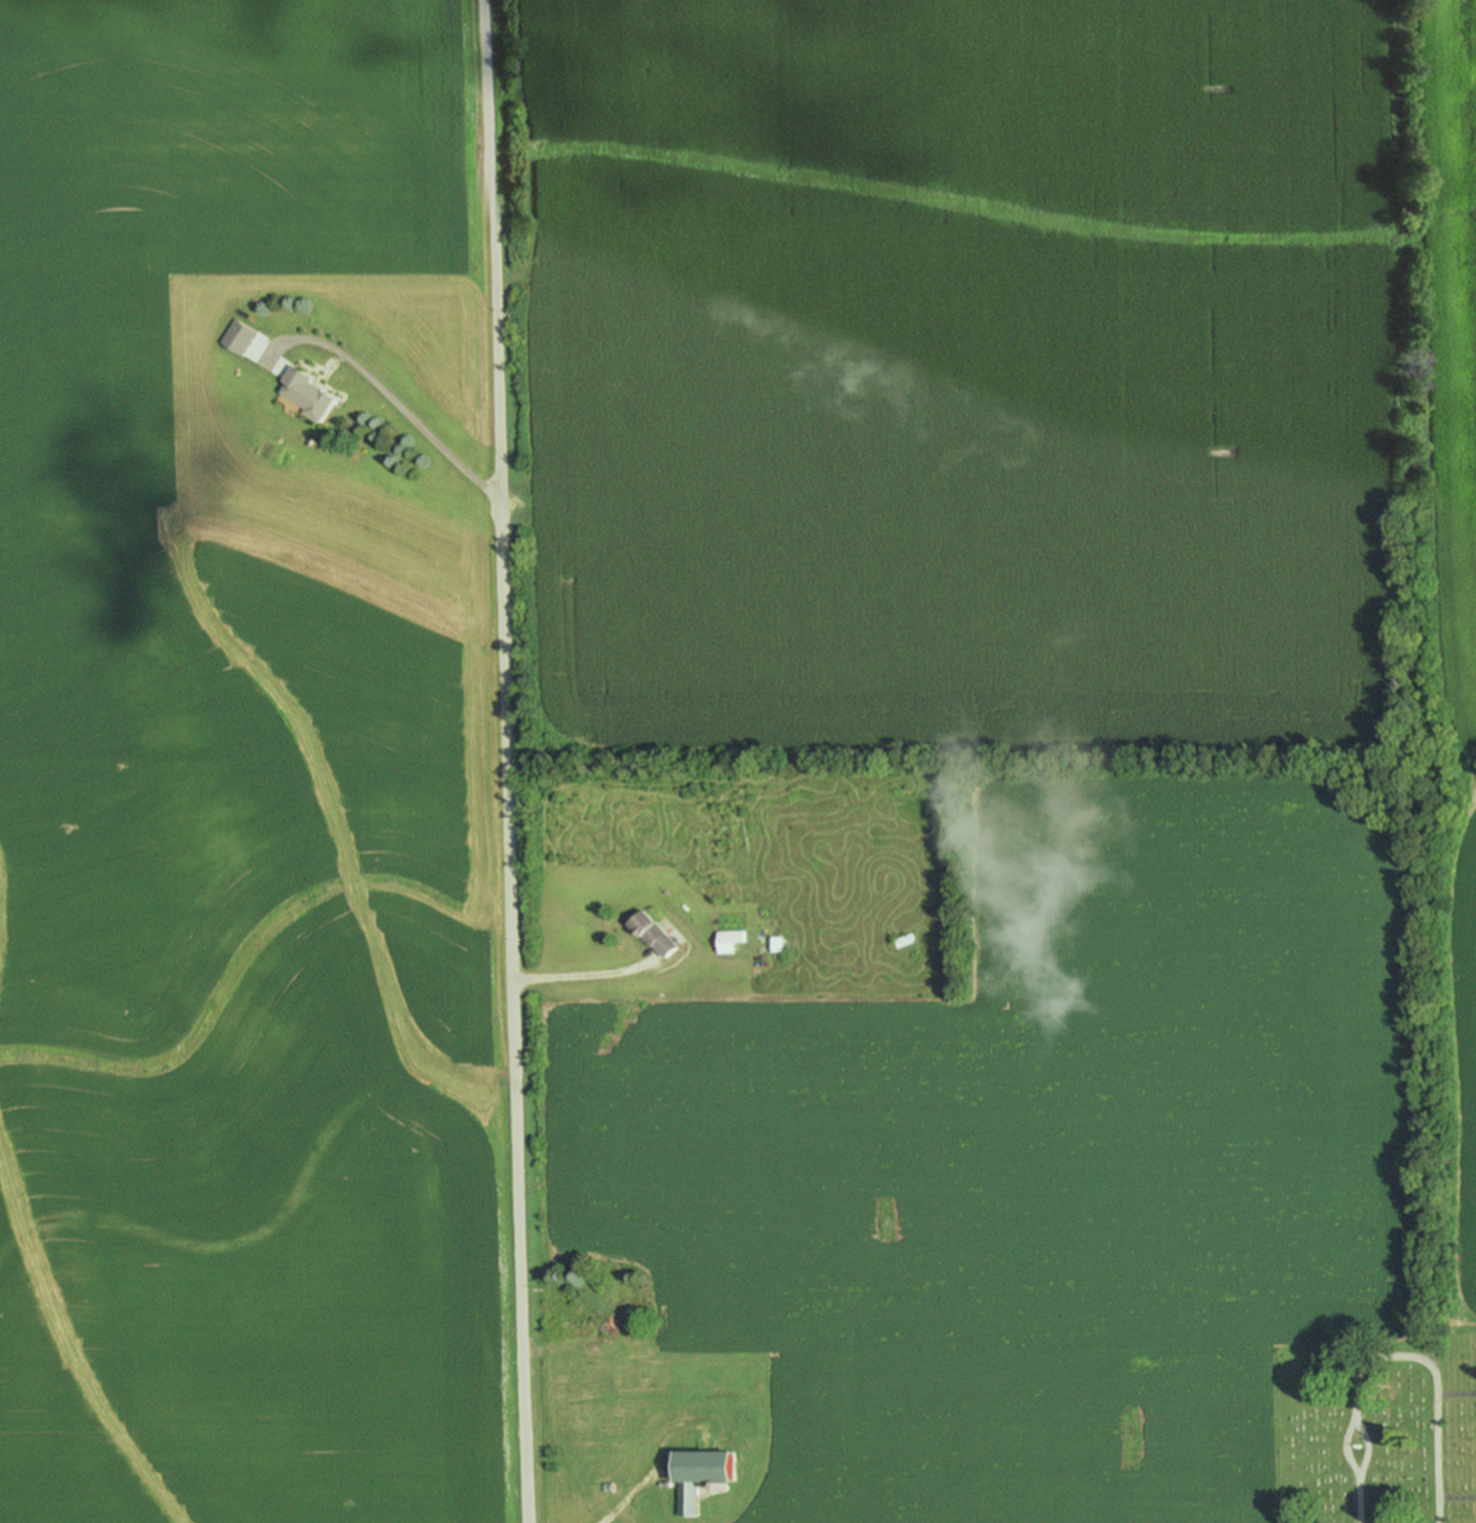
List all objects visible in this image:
building: (309, 392)
road: (505, 761)
building: (656, 932)
building: (728, 940)
building: (904, 940)
road: (1434, 1378)
road: (1456, 1394)
park: (1373, 1428)
road: (1362, 1447)
road: (1344, 1449)
building: (704, 1473)
road: (1456, 1497)
road: (1357, 1499)

